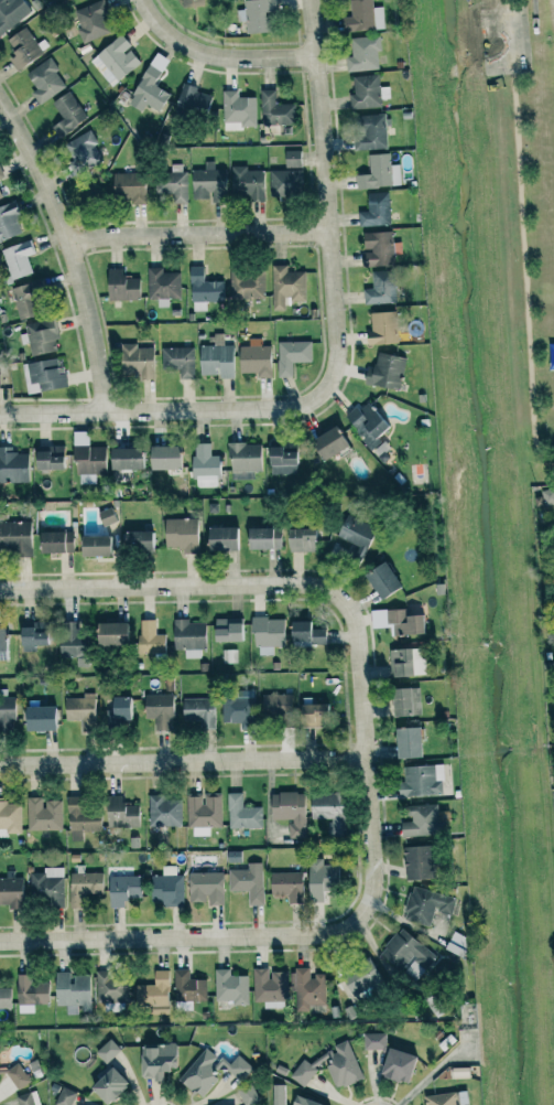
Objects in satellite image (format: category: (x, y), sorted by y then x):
building: (192, 3)
road: (508, 3)
building: (11, 12)
building: (256, 14)
building: (363, 17)
building: (91, 21)
road: (511, 40)
building: (24, 46)
building: (363, 54)
road: (214, 55)
building: (115, 60)
building: (45, 82)
building: (150, 87)
building: (195, 101)
building: (275, 110)
building: (238, 111)
building: (67, 114)
building: (369, 131)
building: (84, 151)
building: (292, 159)
building: (378, 173)
building: (0, 175)
building: (208, 182)
building: (246, 183)
building: (285, 183)
building: (172, 185)
building: (128, 186)
building: (0, 195)
park: (529, 203)
road: (325, 205)
building: (374, 210)
building: (8, 221)
road: (197, 234)
building: (378, 249)
road: (69, 250)
building: (19, 258)
road: (523, 272)
building: (246, 285)
building: (120, 286)
building: (163, 286)
building: (285, 286)
building: (380, 289)
building: (203, 290)
building: (26, 300)
building: (381, 329)
building: (40, 336)
building: (291, 355)
building: (215, 357)
building: (254, 358)
building: (137, 361)
building: (178, 361)
building: (387, 371)
building: (43, 376)
road: (155, 411)
building: (326, 444)
building: (86, 455)
building: (243, 457)
building: (163, 458)
building: (47, 459)
building: (123, 459)
building: (281, 461)
building: (204, 465)
building: (12, 466)
building: (545, 497)
building: (106, 517)
building: (180, 534)
building: (355, 534)
building: (15, 537)
building: (219, 539)
building: (262, 539)
building: (54, 540)
building: (138, 540)
building: (300, 540)
building: (94, 545)
building: (381, 581)
road: (171, 589)
building: (403, 621)
building: (228, 629)
building: (109, 633)
building: (267, 633)
building: (305, 634)
building: (30, 635)
building: (188, 636)
building: (68, 637)
building: (150, 637)
building: (1, 641)
building: (404, 661)
building: (404, 700)
building: (275, 705)
building: (118, 707)
building: (77, 708)
building: (159, 709)
building: (237, 709)
building: (197, 710)
building: (6, 711)
building: (311, 714)
building: (37, 717)
building: (405, 741)
road: (366, 745)
road: (182, 761)
building: (420, 780)
building: (163, 811)
building: (327, 811)
building: (203, 812)
building: (289, 812)
building: (120, 813)
building: (241, 813)
building: (44, 814)
building: (10, 817)
building: (82, 818)
building: (420, 820)
building: (417, 860)
building: (319, 878)
building: (247, 881)
building: (285, 884)
building: (84, 886)
building: (206, 886)
building: (47, 887)
building: (167, 887)
building: (122, 889)
building: (11, 891)
building: (425, 904)
road: (188, 934)
building: (405, 952)
building: (361, 978)
building: (270, 986)
building: (188, 987)
building: (230, 987)
building: (307, 987)
building: (112, 989)
building: (73, 991)
building: (30, 993)
building: (154, 994)
building: (4, 997)
building: (373, 1041)
building: (107, 1050)
building: (155, 1060)
building: (341, 1064)
building: (397, 1064)
building: (235, 1068)
building: (302, 1072)
building: (199, 1073)
building: (17, 1075)
building: (107, 1084)
building: (247, 1094)
building: (279, 1094)
building: (64, 1096)
building: (28, 1098)
building: (445, 1098)
building: (304, 1101)

